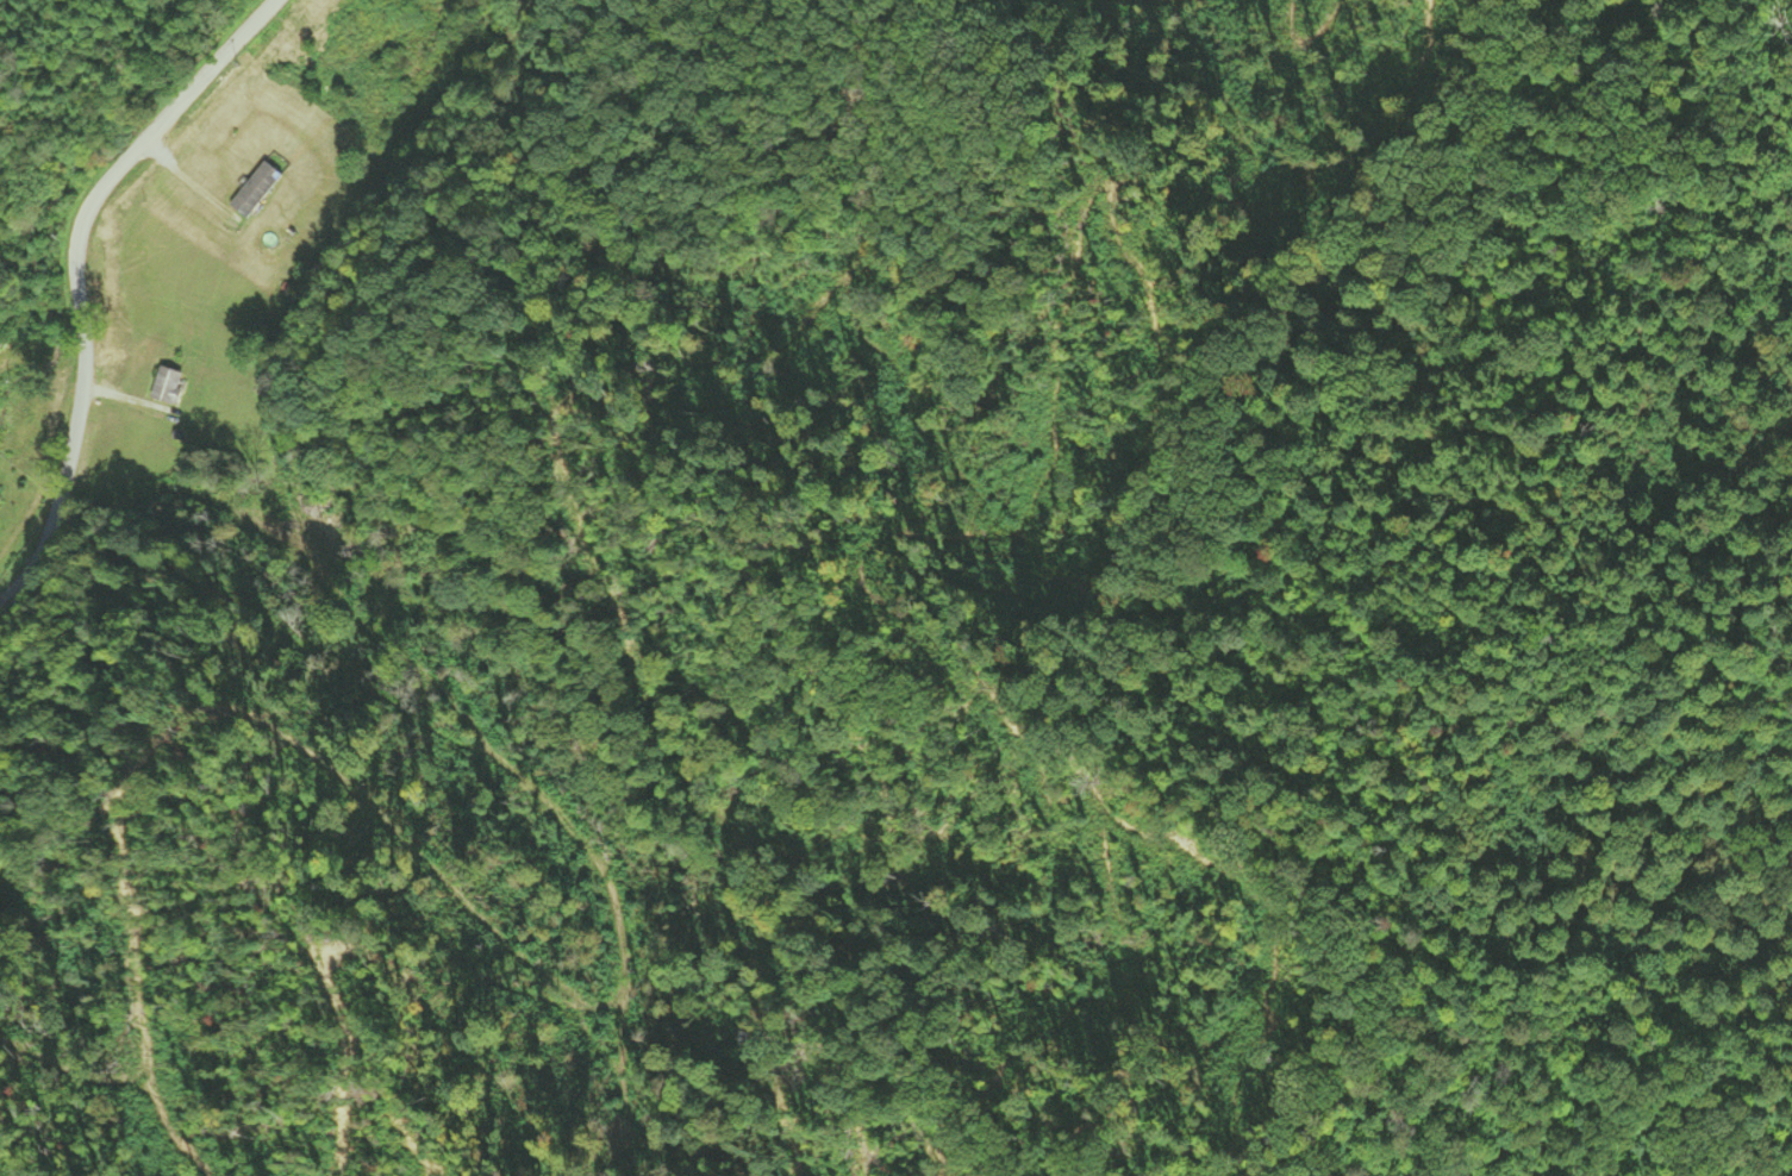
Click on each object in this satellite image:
building: (255, 190)
road: (75, 288)
building: (4, 354)
building: (166, 386)
road: (20, 577)

